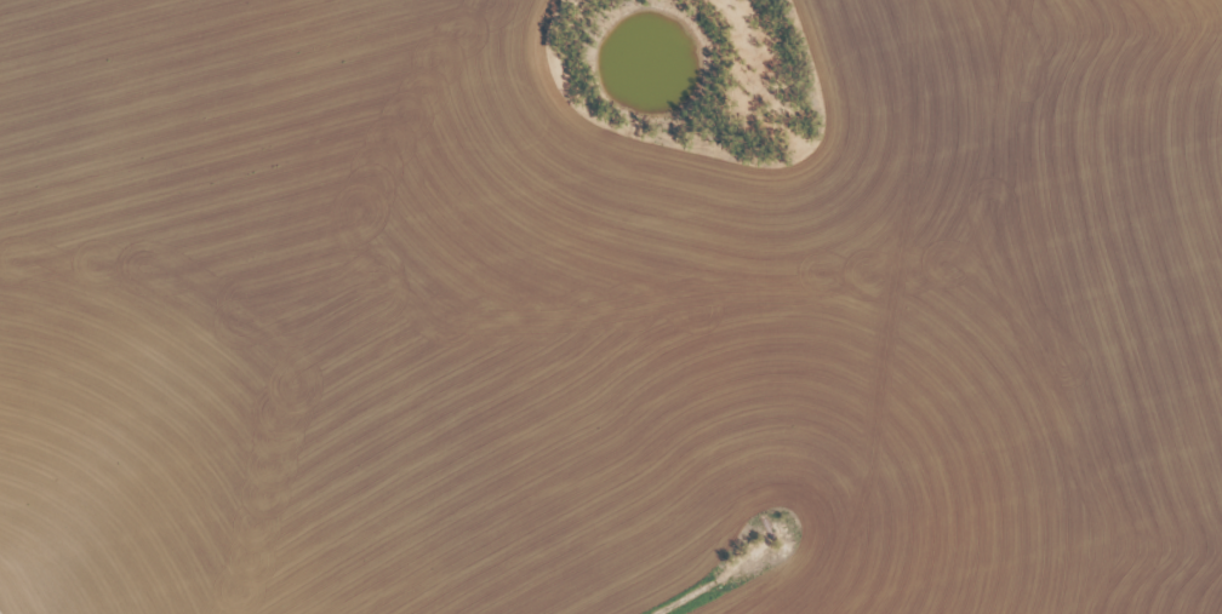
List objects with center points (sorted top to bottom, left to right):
road: (1090, 314)

